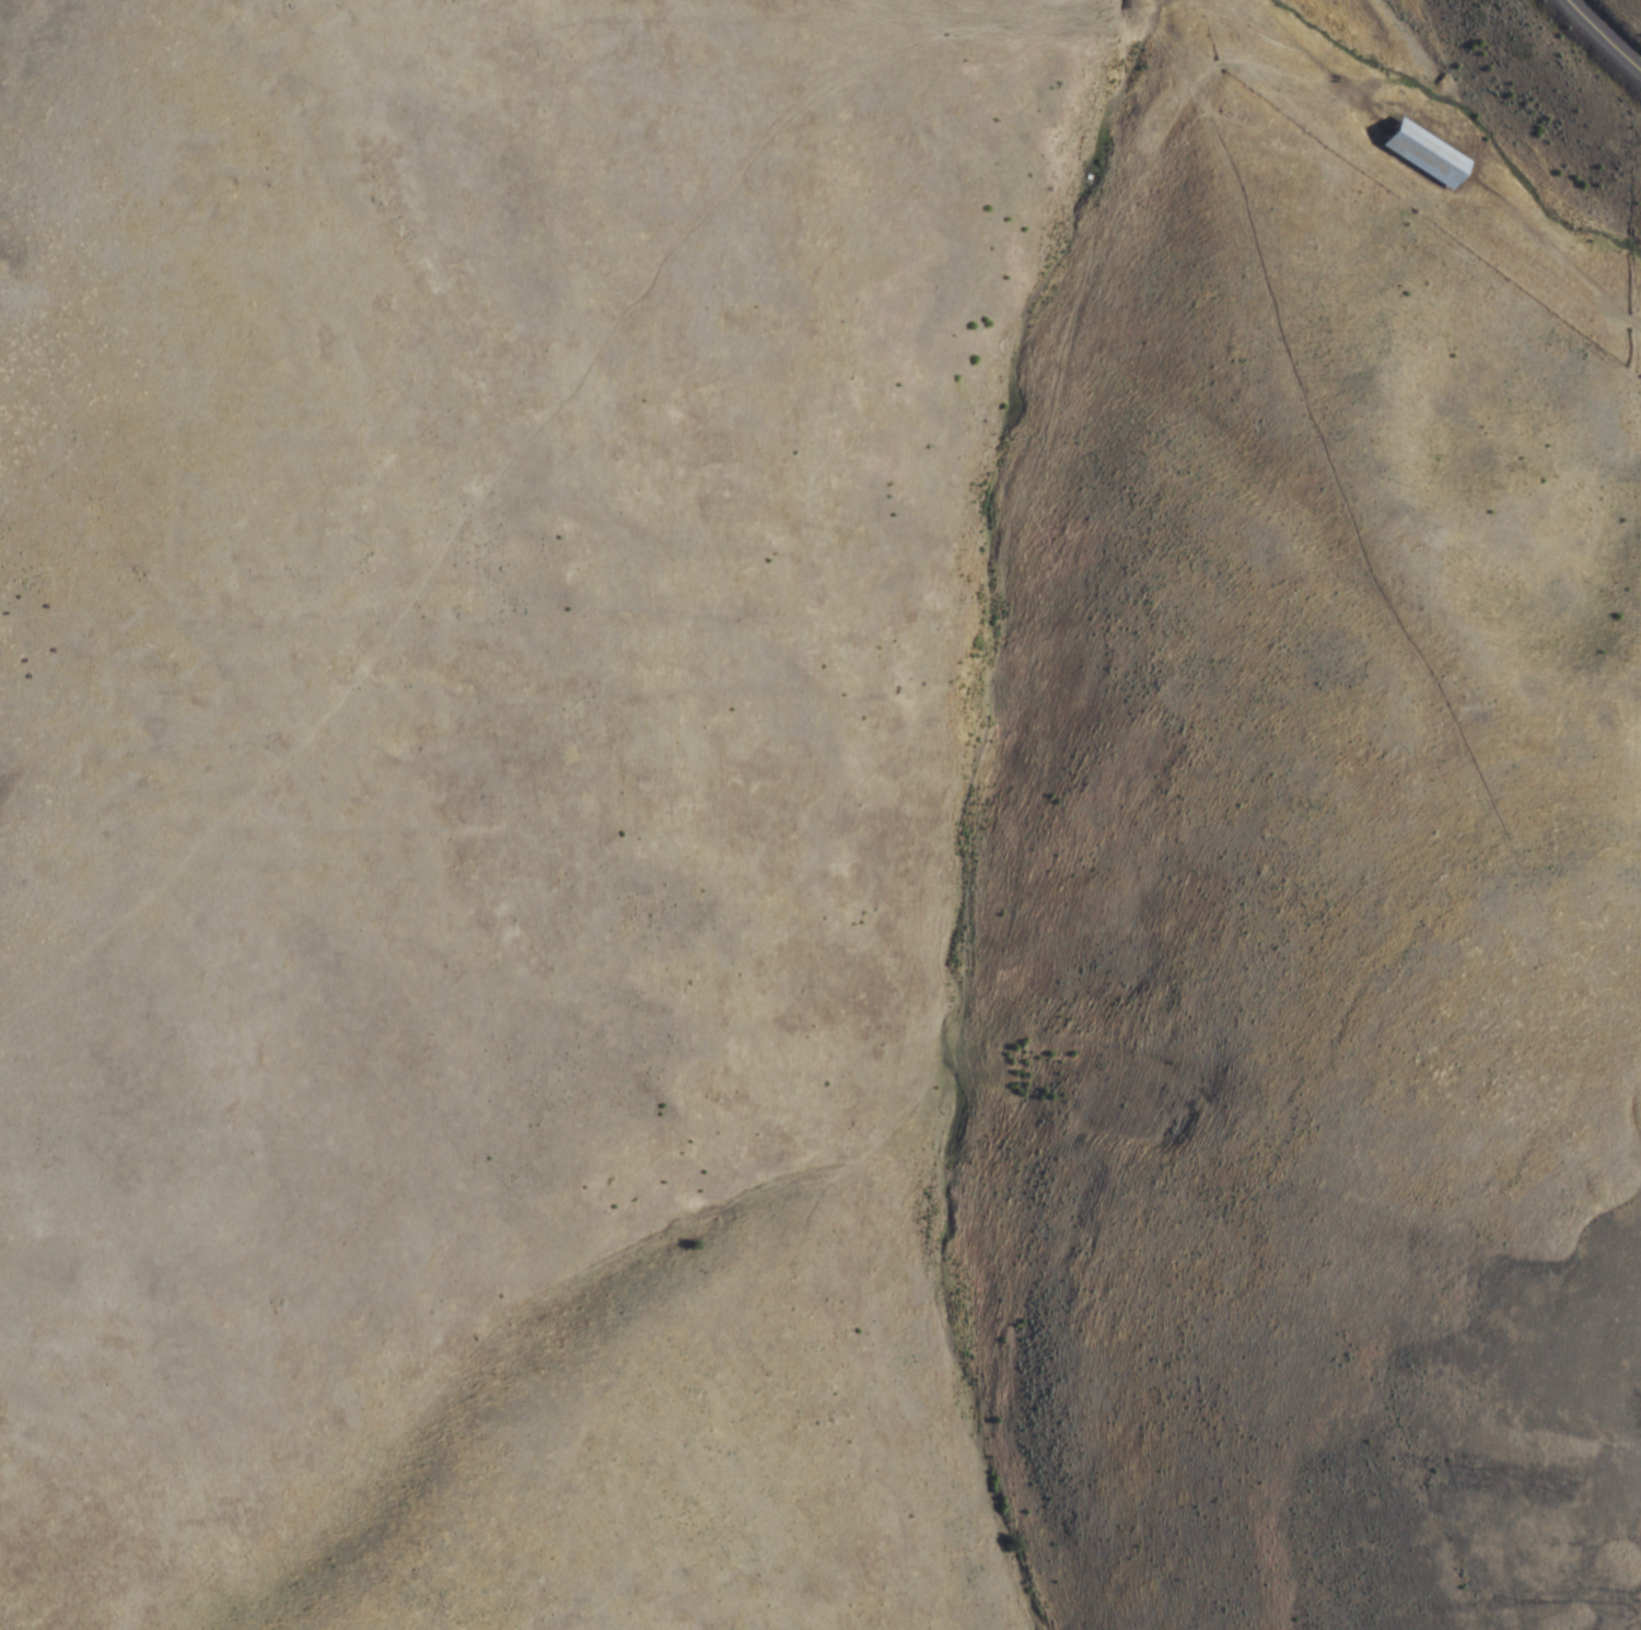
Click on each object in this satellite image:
road: (1604, 39)
building: (1424, 154)

